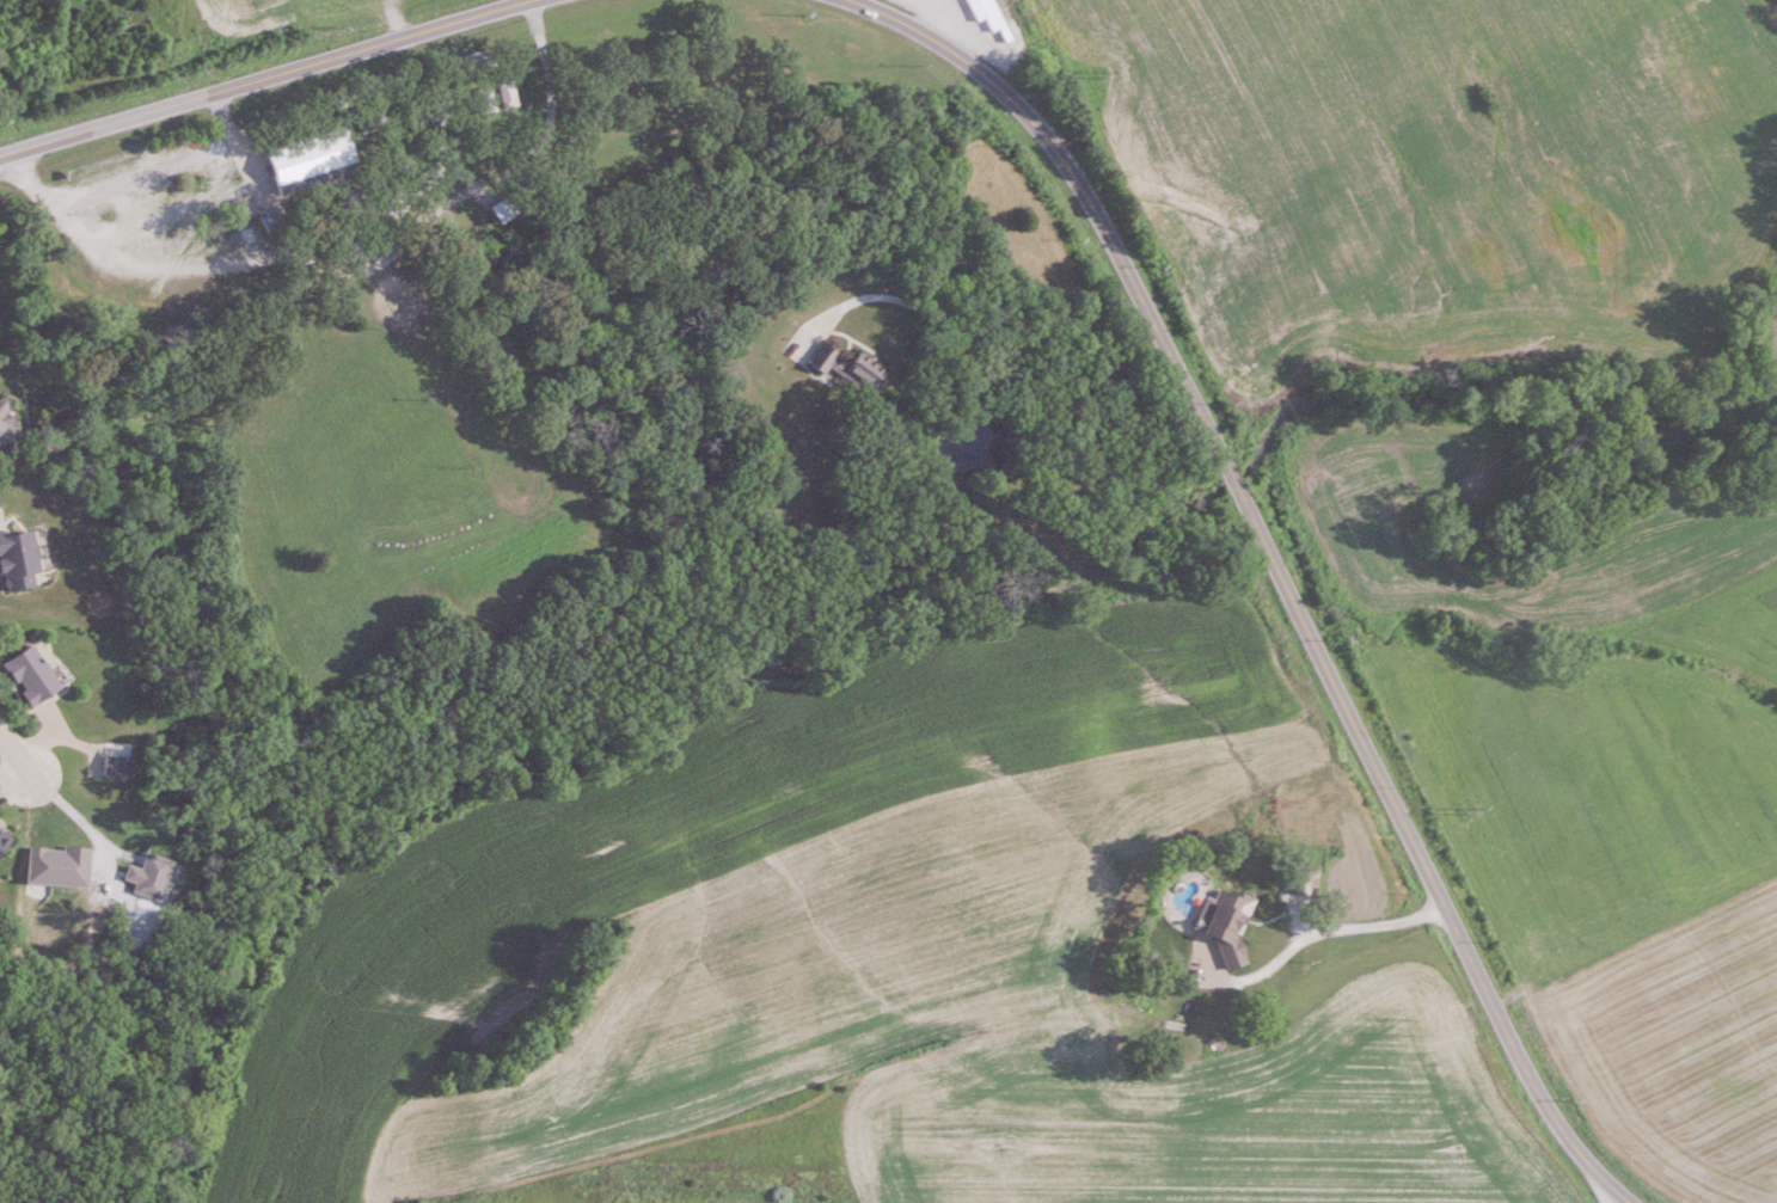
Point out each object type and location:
building: (1003, 19)
building: (470, 62)
road: (272, 80)
building: (508, 94)
building: (485, 99)
building: (441, 109)
building: (373, 122)
building: (310, 160)
road: (251, 162)
building: (430, 176)
building: (502, 209)
building: (370, 215)
road: (349, 264)
road: (1016, 361)
building: (845, 368)
building: (7, 421)
building: (17, 561)
road: (1277, 564)
building: (31, 676)
road: (11, 757)
building: (116, 767)
road: (76, 818)
building: (2, 842)
building: (1300, 880)
building: (1206, 895)
road: (1335, 932)
road: (1609, 1195)

